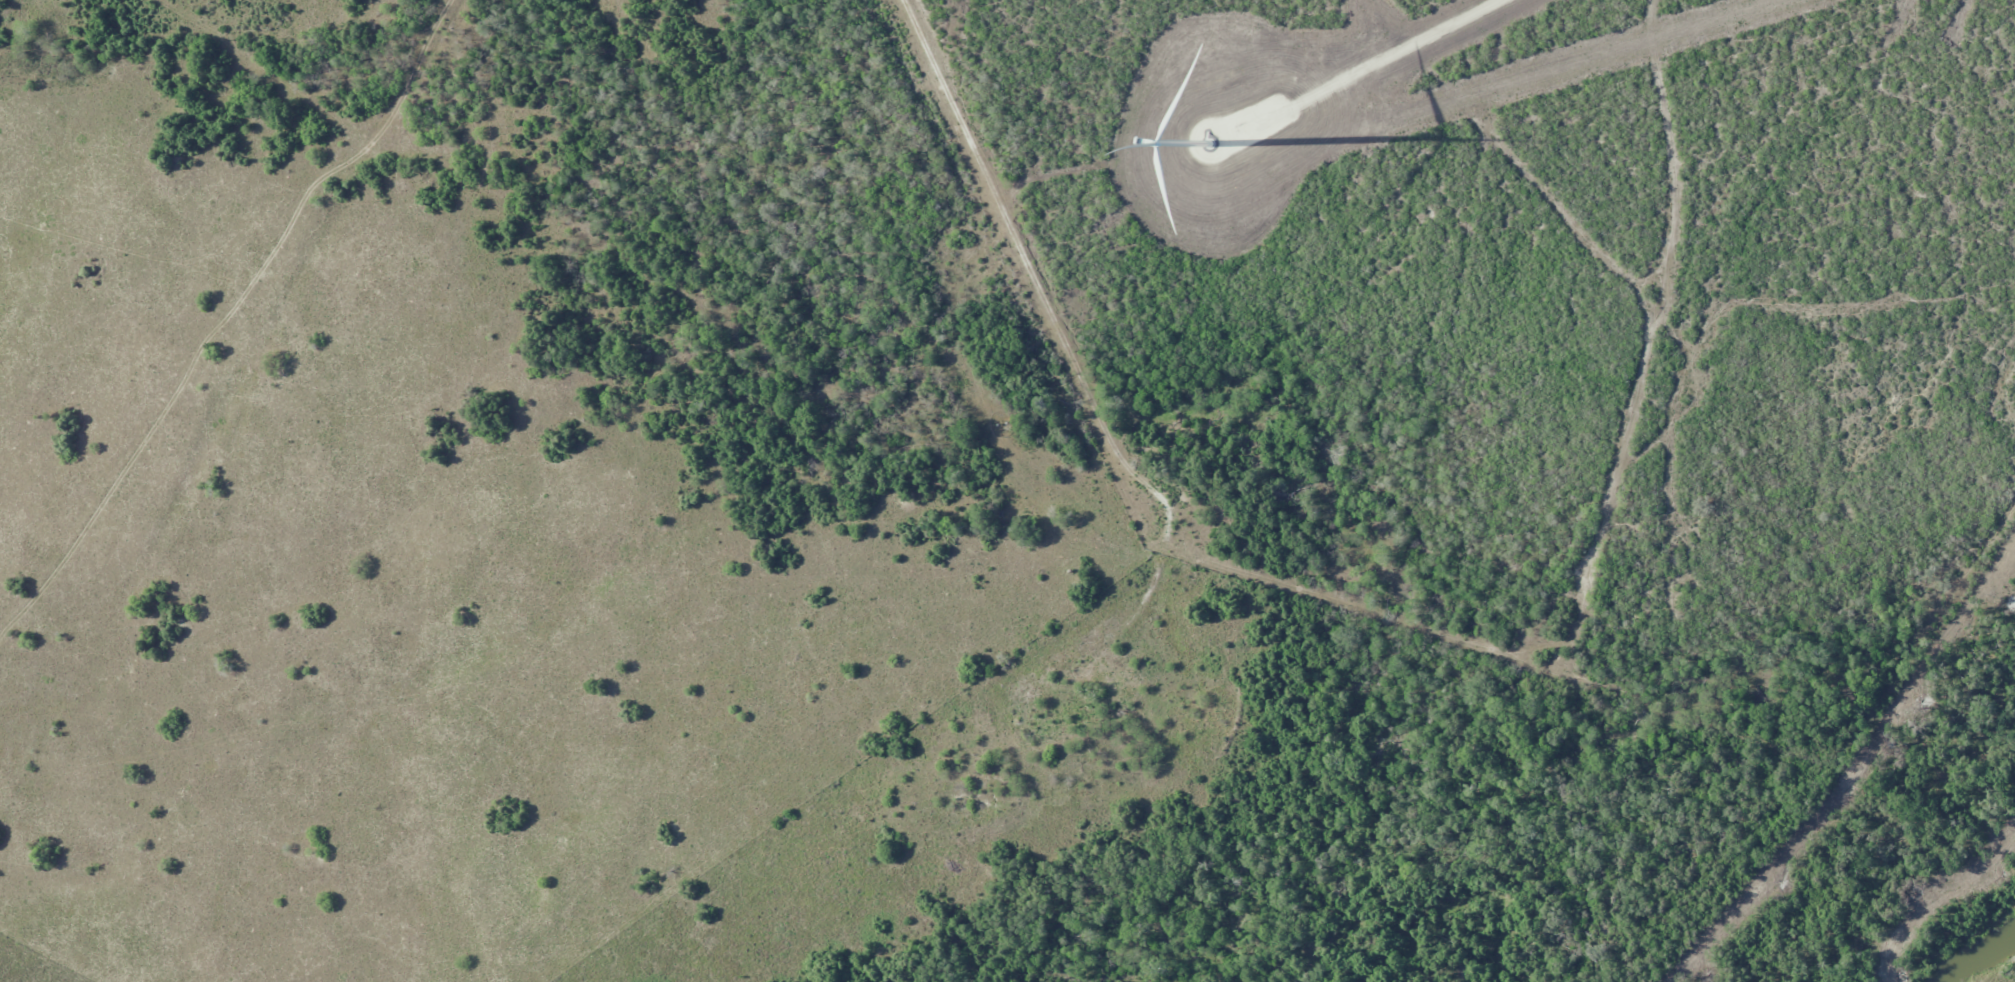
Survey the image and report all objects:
wind turbine: (1201, 151)
river: (1977, 955)

